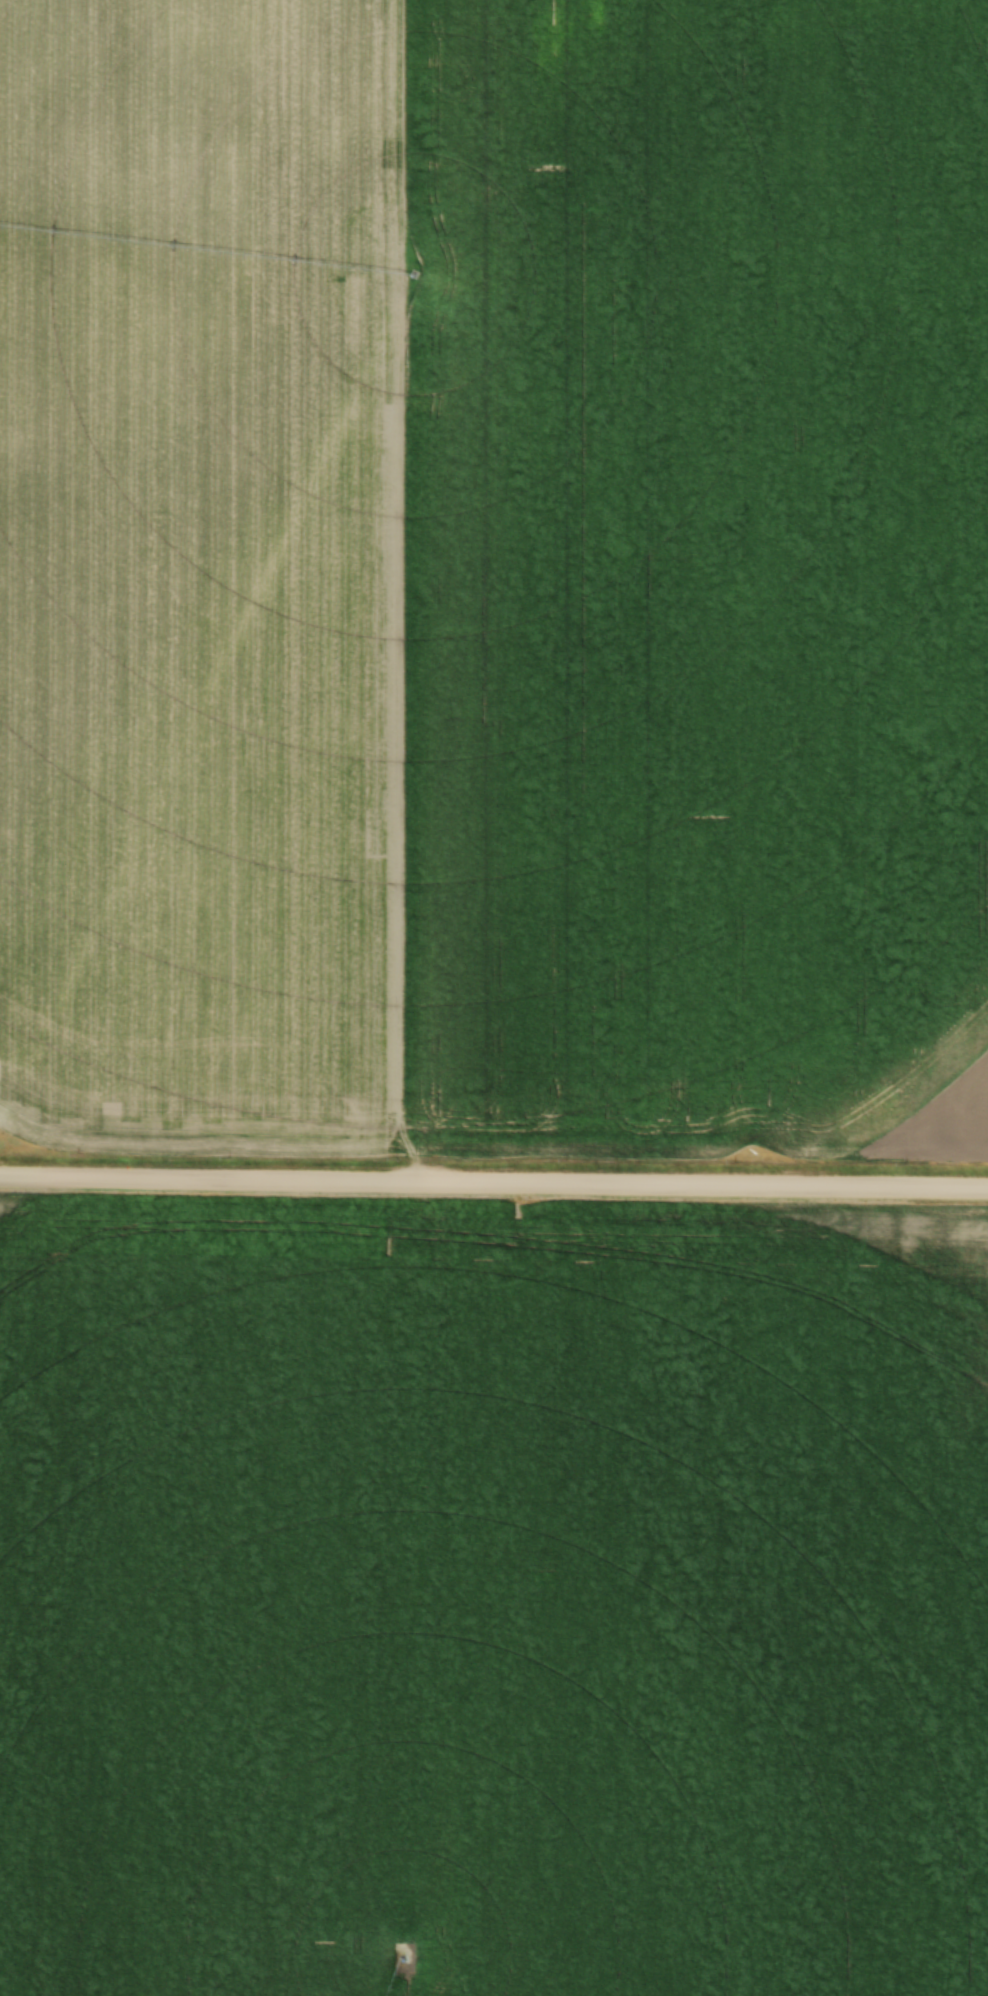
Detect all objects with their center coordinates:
crop: (494, 574)
road: (493, 1181)
crop: (488, 1608)

